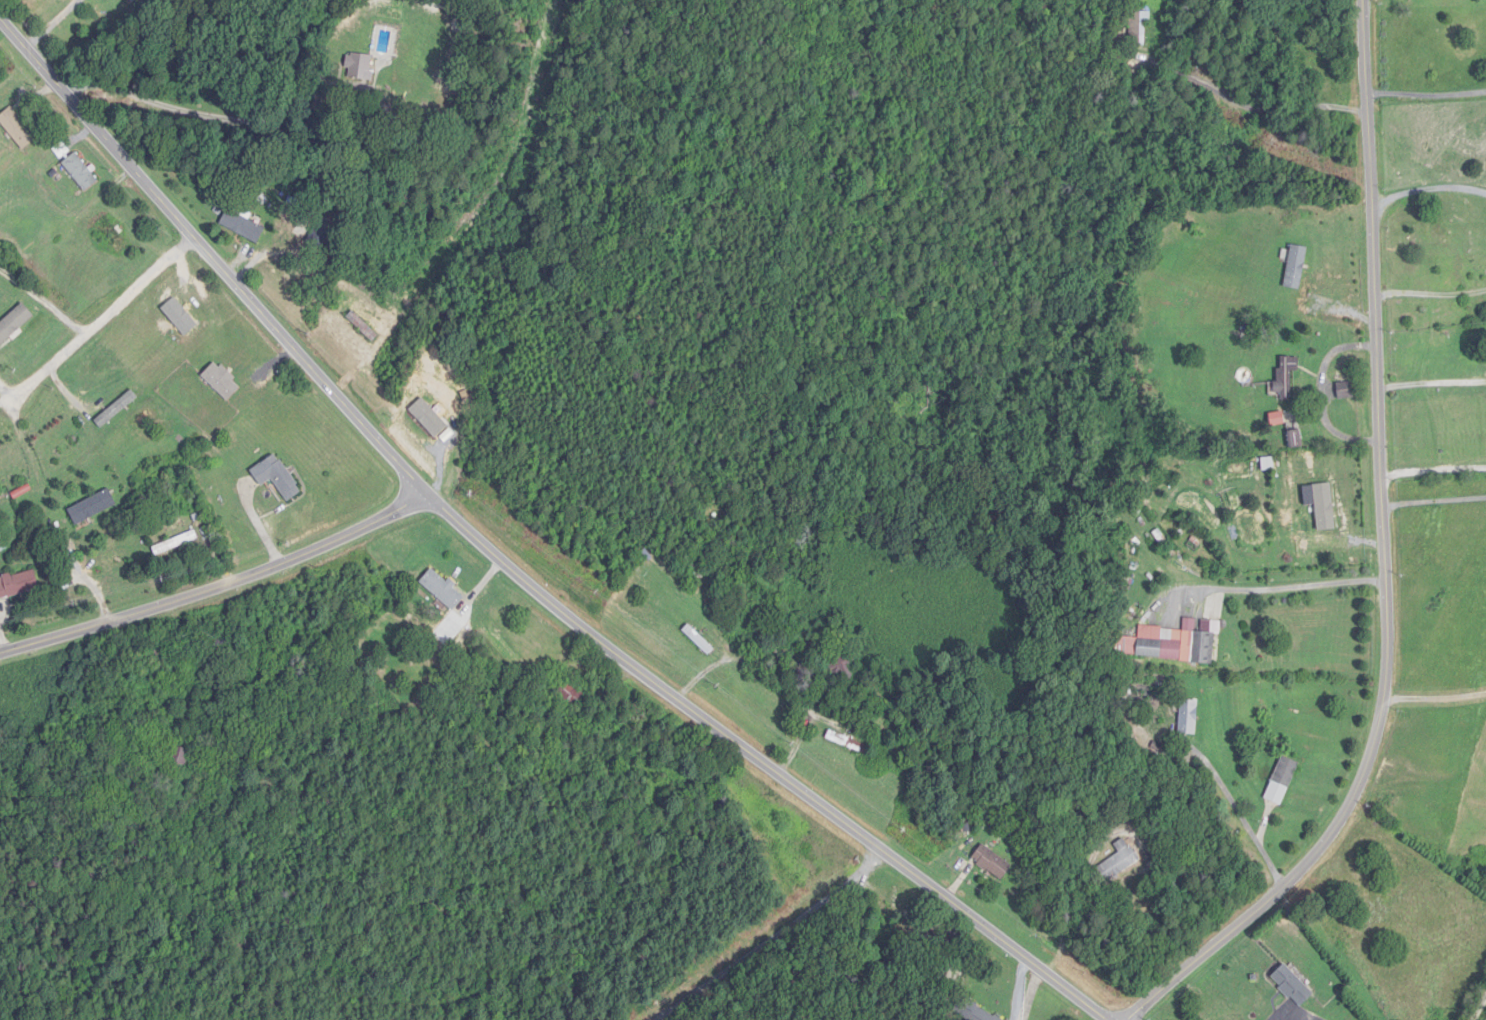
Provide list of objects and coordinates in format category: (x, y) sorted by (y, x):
building: (134, 1)
road: (52, 23)
building: (1139, 29)
building: (359, 66)
road: (1427, 94)
road: (265, 120)
building: (17, 129)
building: (62, 151)
building: (81, 172)
road: (1427, 191)
building: (243, 226)
building: (113, 237)
building: (320, 237)
road: (1428, 294)
road: (41, 298)
building: (182, 313)
road: (95, 318)
building: (21, 328)
building: (1286, 376)
building: (222, 382)
road: (1428, 383)
building: (1347, 385)
building: (117, 410)
building: (1277, 419)
building: (1296, 440)
building: (66, 449)
road: (1433, 471)
building: (277, 477)
building: (13, 481)
building: (176, 543)
road: (1380, 560)
road: (509, 567)
building: (18, 584)
road: (1262, 589)
building: (442, 590)
road: (220, 591)
building: (699, 640)
building: (1170, 644)
building: (226, 648)
road: (789, 655)
building: (159, 658)
building: (842, 658)
building: (571, 695)
building: (848, 742)
building: (180, 756)
building: (1282, 781)
road: (1234, 803)
building: (1119, 862)
building: (992, 863)
building: (1176, 882)
road: (1078, 901)
road: (773, 939)
building: (1293, 986)
road: (1477, 1005)
building: (973, 1012)

